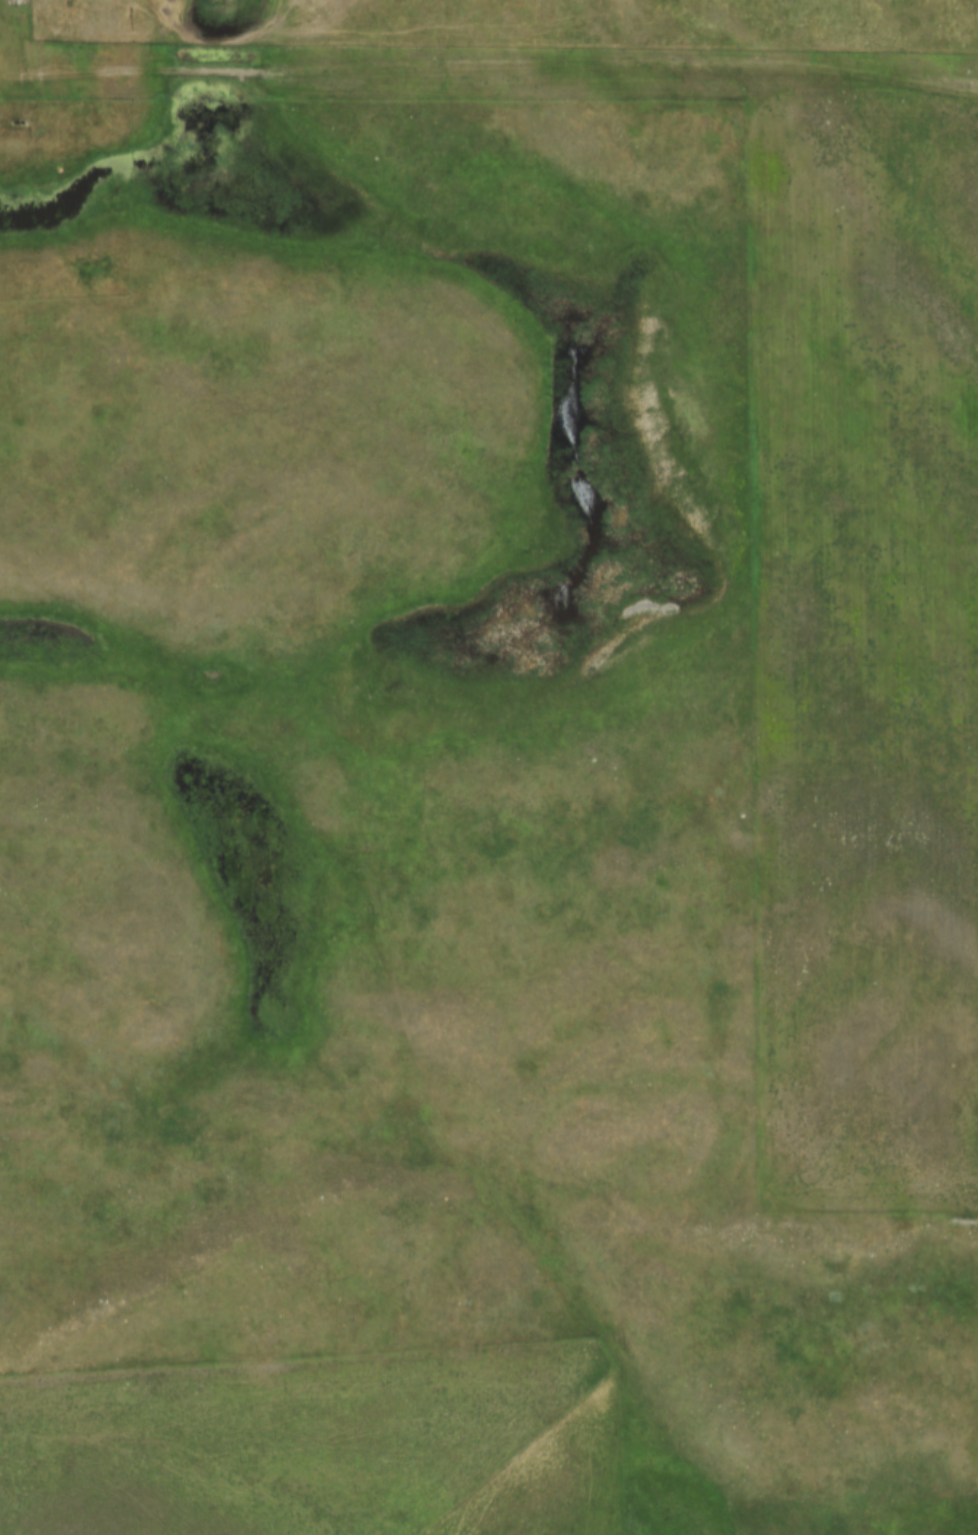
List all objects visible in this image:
road: (490, 68)

